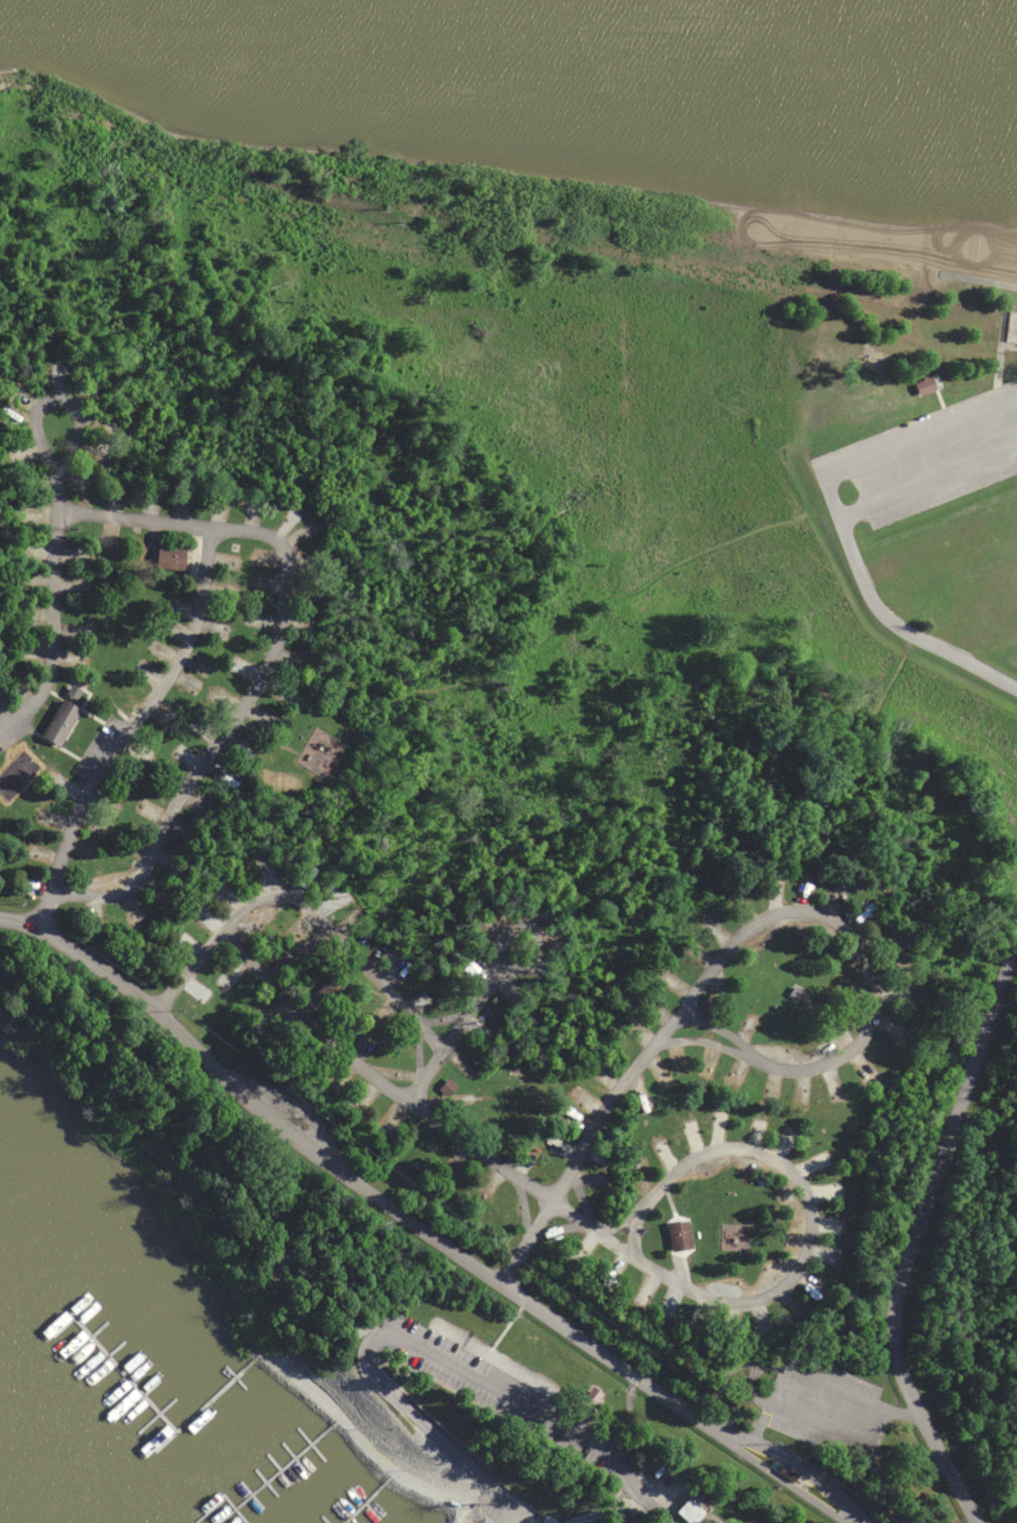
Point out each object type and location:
building: (1014, 315)
road: (90, 392)
road: (921, 435)
road: (928, 480)
road: (54, 615)
road: (884, 615)
road: (308, 671)
building: (59, 722)
road: (133, 732)
road: (299, 893)
road: (514, 927)
road: (749, 931)
road: (445, 1035)
building: (446, 1087)
road: (406, 1101)
road: (301, 1145)
road: (742, 1150)
road: (578, 1157)
building: (678, 1234)
road: (915, 1234)
road: (429, 1349)
pier: (122, 1369)
pier: (206, 1403)
road: (741, 1440)
road: (779, 1477)

